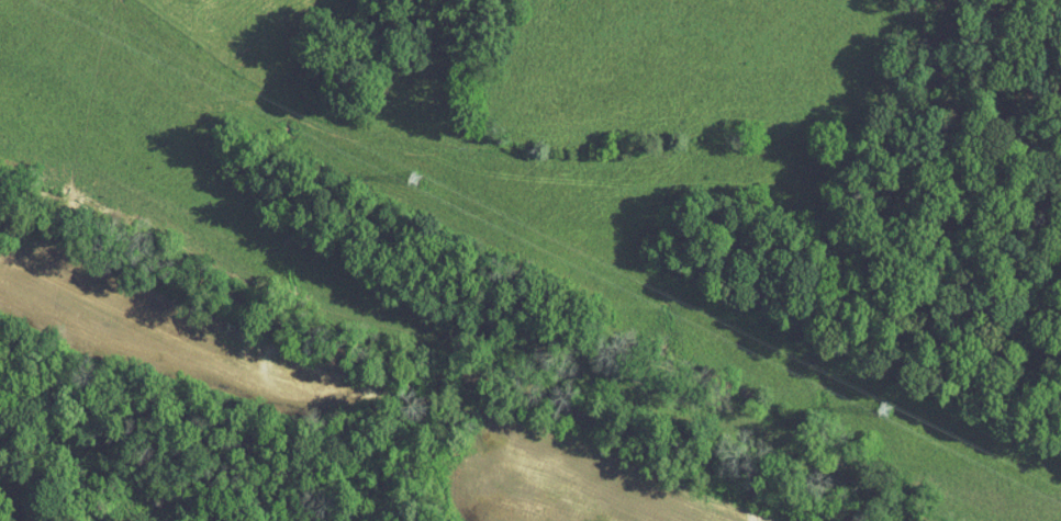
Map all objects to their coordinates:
power tower: (409, 177)
power tower: (901, 409)

